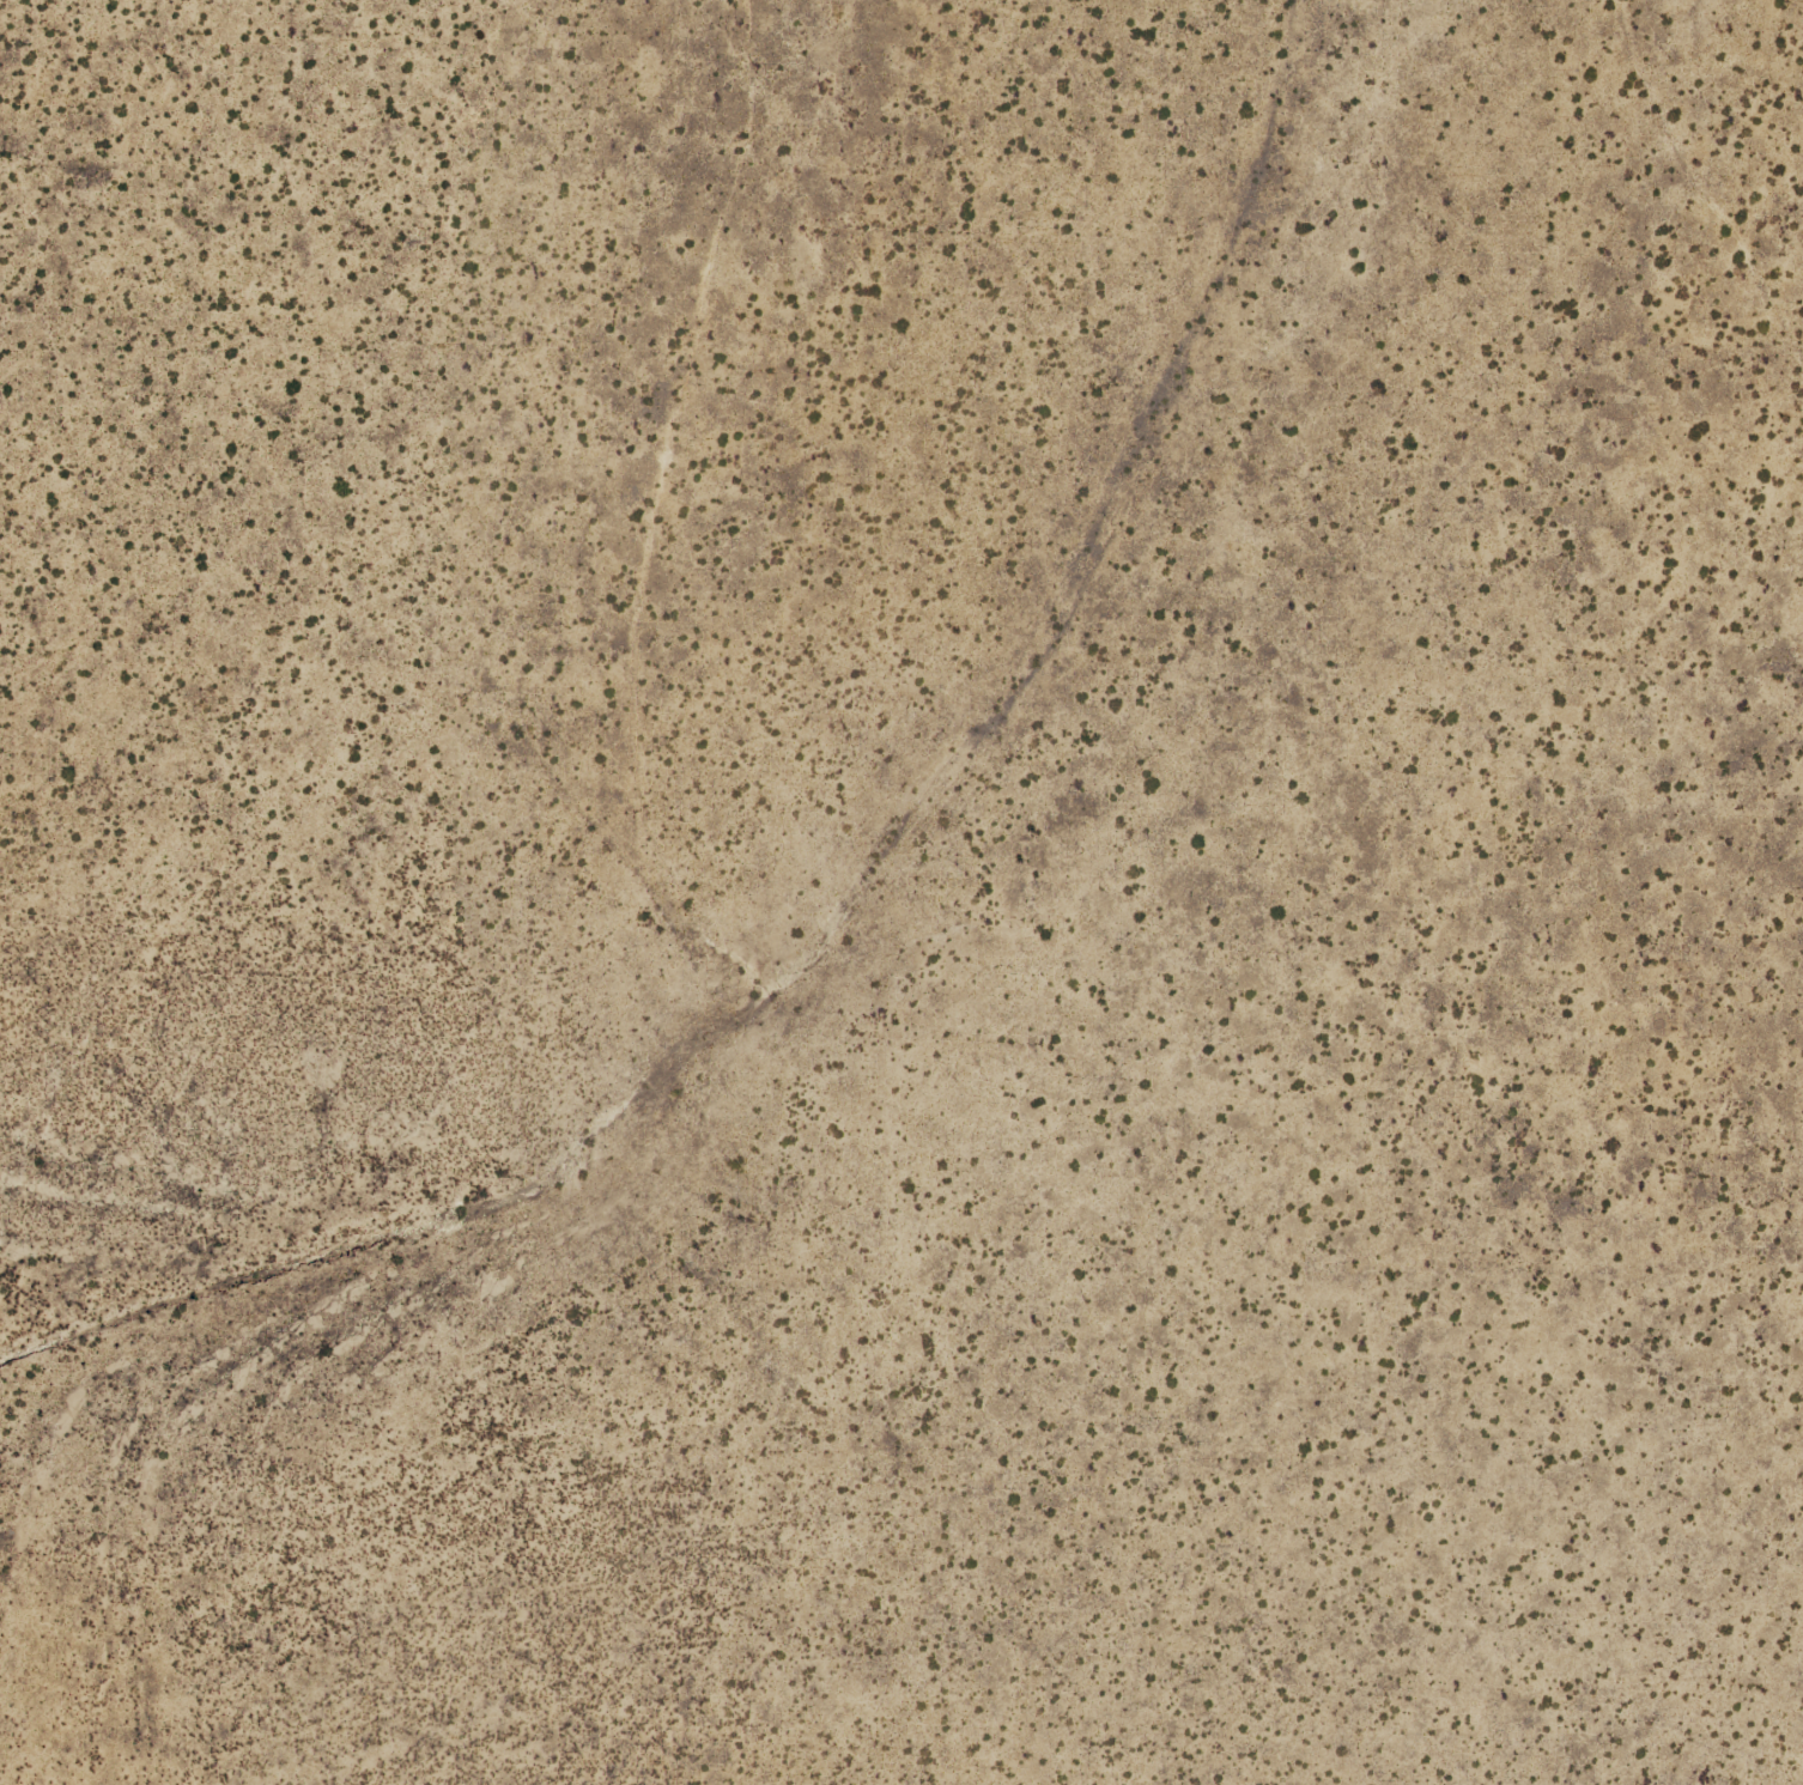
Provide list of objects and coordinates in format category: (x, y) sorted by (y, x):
road: (1704, 193)

